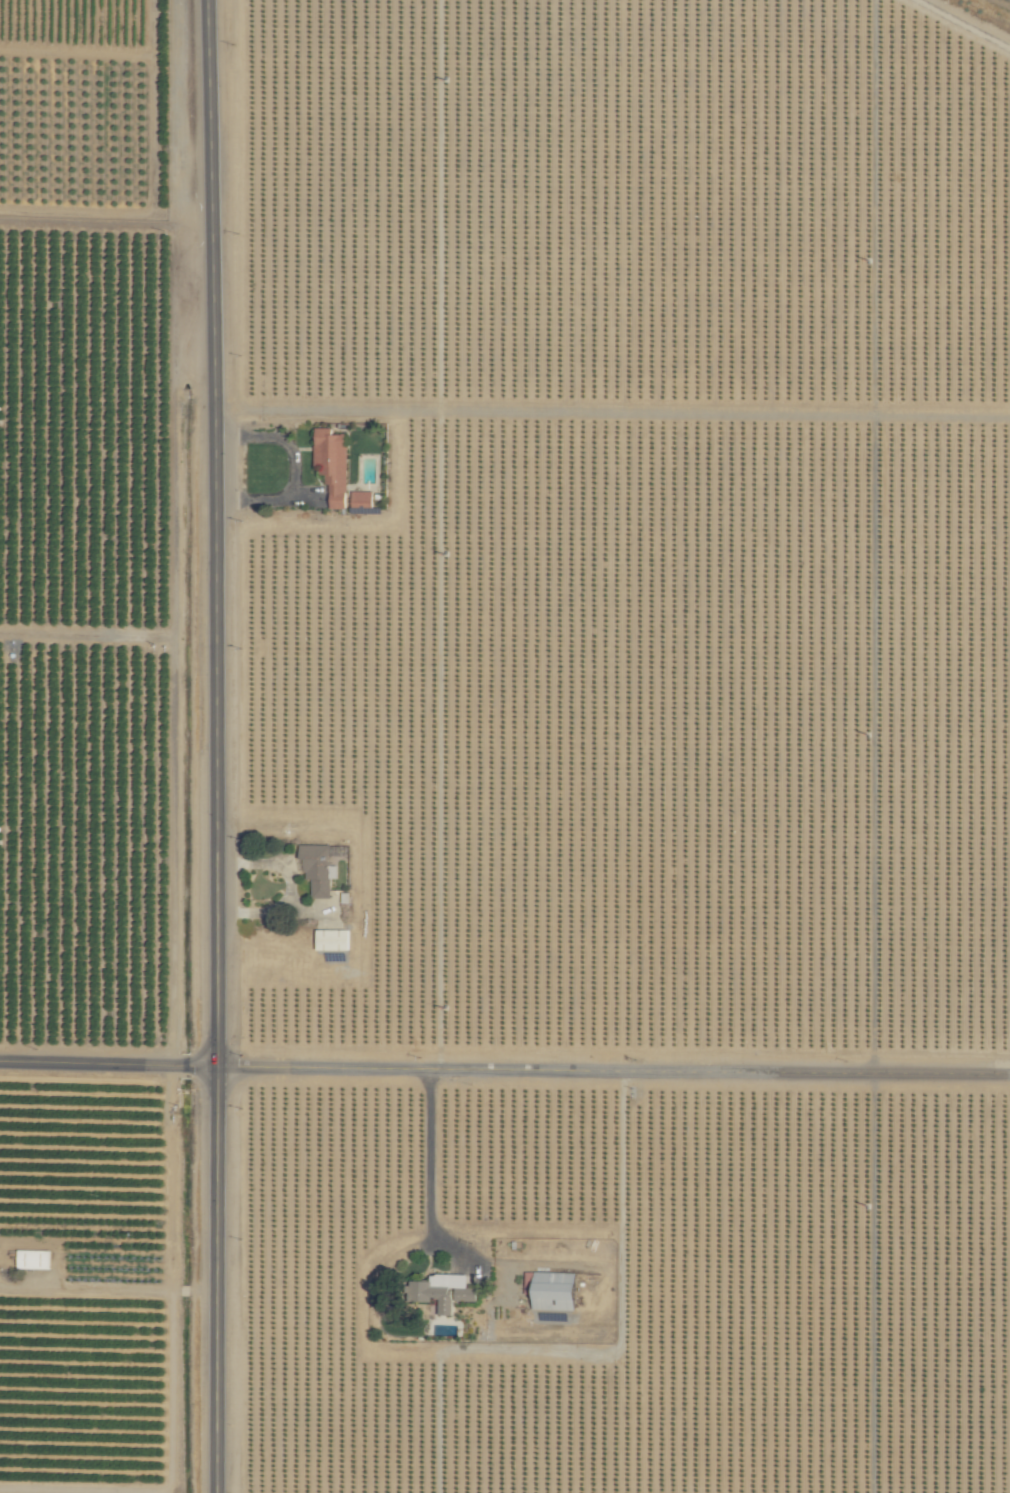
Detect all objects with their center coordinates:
road: (213, 426)
road: (280, 439)
building: (333, 464)
building: (363, 499)
road: (269, 500)
crop: (504, 747)
building: (319, 868)
building: (333, 939)
road: (216, 959)
road: (108, 1062)
road: (322, 1066)
road: (719, 1071)
road: (431, 1158)
road: (216, 1249)
building: (33, 1259)
building: (553, 1290)
building: (443, 1291)
road: (216, 1463)

